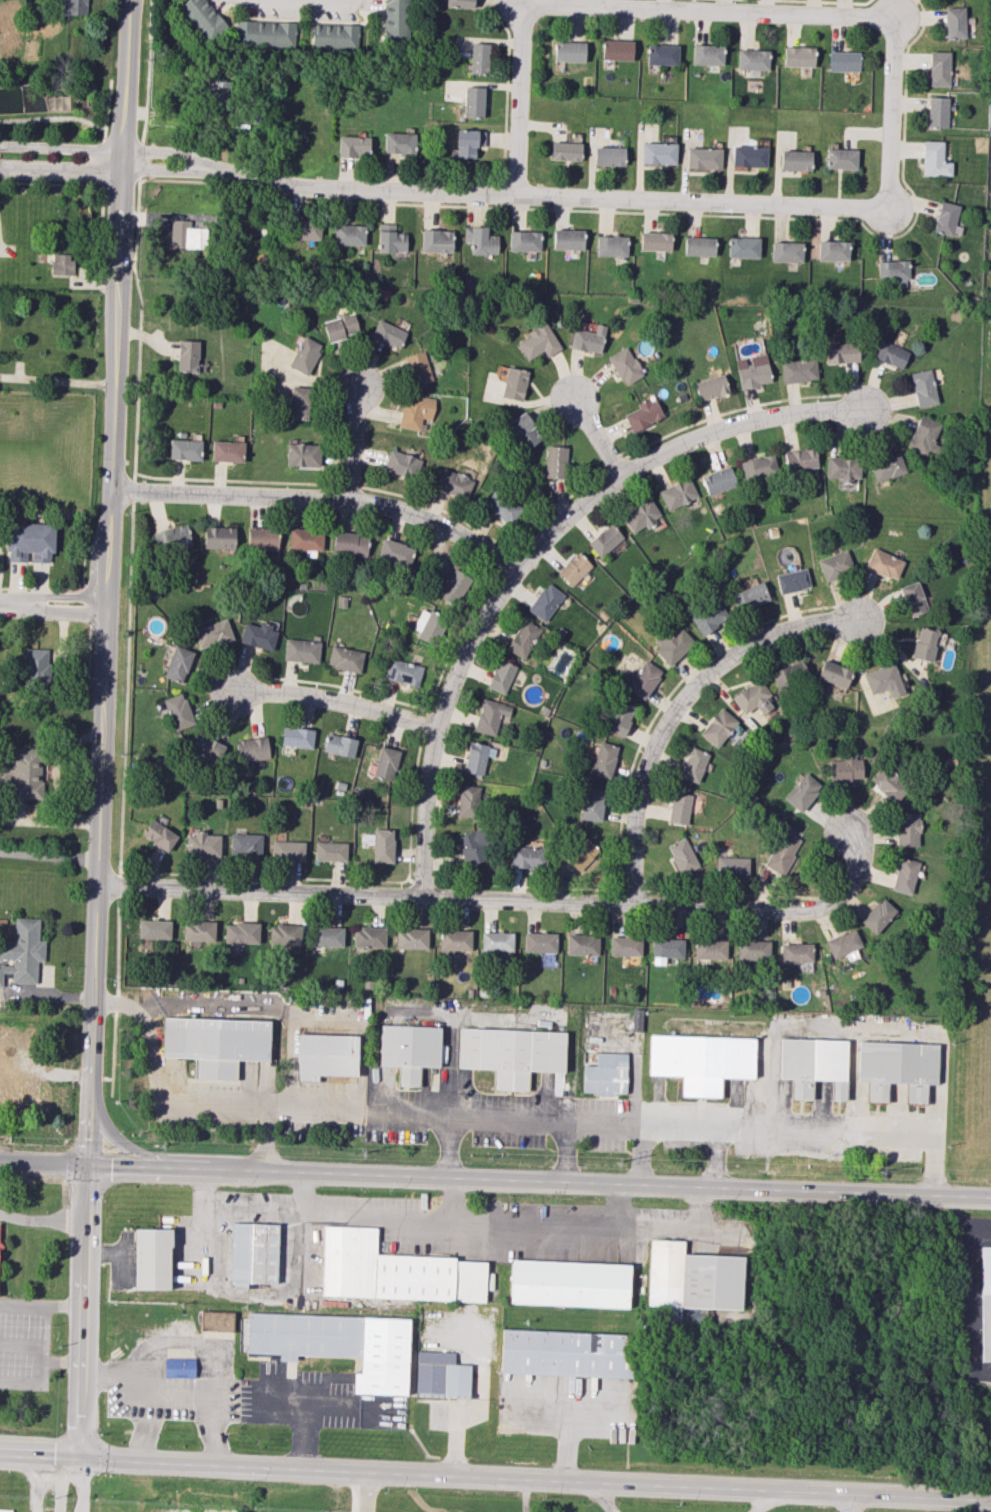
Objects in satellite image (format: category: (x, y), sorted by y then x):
road: (322, 1)
building: (459, 3)
building: (73, 7)
building: (202, 17)
building: (395, 19)
building: (954, 22)
building: (265, 33)
building: (334, 36)
building: (616, 50)
building: (568, 51)
building: (661, 54)
building: (706, 54)
building: (797, 56)
building: (478, 58)
building: (752, 59)
building: (843, 61)
building: (938, 68)
road: (148, 72)
road: (125, 75)
building: (218, 95)
road: (517, 98)
building: (473, 102)
building: (937, 112)
road: (77, 120)
road: (105, 136)
building: (468, 142)
building: (399, 143)
building: (353, 146)
road: (60, 148)
building: (565, 151)
building: (658, 153)
road: (174, 154)
building: (749, 154)
building: (608, 156)
building: (703, 158)
building: (840, 158)
building: (934, 159)
building: (794, 160)
road: (61, 168)
road: (173, 171)
road: (855, 208)
building: (947, 219)
building: (305, 230)
building: (348, 234)
building: (186, 235)
building: (390, 239)
building: (567, 239)
building: (480, 240)
building: (436, 241)
building: (523, 241)
building: (655, 241)
building: (611, 245)
building: (698, 246)
building: (743, 247)
building: (832, 250)
building: (785, 252)
building: (61, 264)
building: (893, 271)
building: (340, 327)
building: (387, 334)
building: (587, 337)
building: (537, 342)
building: (842, 352)
building: (890, 354)
building: (187, 355)
building: (304, 355)
building: (624, 366)
building: (415, 368)
building: (798, 370)
building: (753, 371)
road: (57, 380)
building: (513, 383)
building: (710, 387)
building: (923, 388)
building: (298, 402)
building: (415, 411)
building: (643, 414)
building: (523, 430)
building: (923, 435)
road: (598, 437)
road: (352, 441)
building: (184, 449)
building: (226, 451)
building: (301, 454)
building: (800, 459)
building: (554, 462)
building: (401, 464)
building: (842, 467)
building: (887, 467)
building: (759, 468)
building: (718, 481)
building: (453, 483)
building: (677, 493)
road: (319, 497)
building: (501, 507)
road: (78, 515)
building: (640, 516)
building: (171, 537)
building: (219, 537)
building: (261, 538)
building: (305, 540)
building: (604, 540)
building: (29, 541)
building: (349, 543)
road: (532, 548)
building: (394, 552)
building: (883, 563)
building: (835, 564)
road: (1, 566)
building: (574, 568)
building: (792, 581)
building: (454, 586)
building: (749, 597)
building: (913, 598)
building: (545, 602)
road: (52, 605)
building: (708, 618)
building: (428, 625)
building: (211, 634)
building: (257, 635)
building: (523, 638)
building: (673, 644)
building: (924, 644)
building: (300, 650)
building: (344, 658)
building: (178, 664)
building: (36, 669)
building: (402, 672)
building: (833, 673)
building: (788, 675)
building: (501, 676)
building: (643, 679)
building: (883, 680)
building: (752, 698)
road: (335, 701)
road: (677, 702)
building: (178, 711)
building: (490, 716)
building: (619, 718)
building: (717, 727)
building: (297, 737)
building: (339, 745)
building: (207, 746)
building: (252, 749)
building: (475, 758)
building: (604, 759)
building: (386, 763)
building: (693, 764)
building: (845, 769)
building: (23, 773)
building: (889, 786)
park: (975, 789)
building: (802, 792)
building: (468, 801)
building: (592, 804)
road: (101, 805)
building: (679, 808)
building: (906, 829)
building: (158, 835)
building: (202, 845)
building: (245, 845)
building: (382, 845)
building: (472, 847)
building: (287, 850)
building: (329, 851)
building: (781, 852)
building: (581, 854)
road: (50, 855)
building: (525, 857)
building: (682, 857)
building: (731, 867)
building: (904, 875)
road: (505, 898)
building: (877, 915)
building: (154, 929)
building: (198, 931)
building: (241, 933)
building: (284, 934)
building: (328, 936)
building: (368, 937)
building: (411, 938)
building: (454, 940)
building: (496, 941)
building: (539, 942)
building: (842, 943)
building: (581, 945)
building: (624, 946)
building: (665, 949)
building: (709, 949)
building: (22, 951)
building: (752, 951)
building: (795, 952)
building: (215, 1044)
building: (408, 1050)
building: (510, 1054)
building: (325, 1056)
building: (700, 1061)
building: (813, 1065)
building: (897, 1068)
building: (604, 1075)
road: (503, 1116)
road: (269, 1140)
power tower: (159, 1144)
road: (448, 1146)
road: (564, 1151)
power tower: (360, 1154)
road: (641, 1155)
road: (162, 1156)
road: (713, 1158)
power tower: (615, 1165)
traffic signals: (89, 1168)
power tower: (878, 1176)
road: (495, 1181)
road: (43, 1221)
building: (1, 1245)
building: (315, 1246)
building: (253, 1253)
building: (151, 1258)
building: (393, 1271)
building: (692, 1278)
building: (569, 1283)
building: (985, 1303)
road: (41, 1305)
building: (216, 1320)
road: (30, 1344)
building: (337, 1345)
building: (565, 1353)
building: (178, 1367)
road: (41, 1375)
road: (144, 1389)
road: (207, 1404)
road: (305, 1426)
road: (42, 1456)
traffic signals: (84, 1458)
road: (114, 1459)
road: (223, 1464)
road: (646, 1483)
road: (37, 1484)
road: (59, 1484)
road: (83, 1485)
road: (367, 1491)
road: (414, 1493)
road: (524, 1494)
road: (601, 1496)
road: (763, 1501)
road: (849, 1503)
building: (5, 1510)

